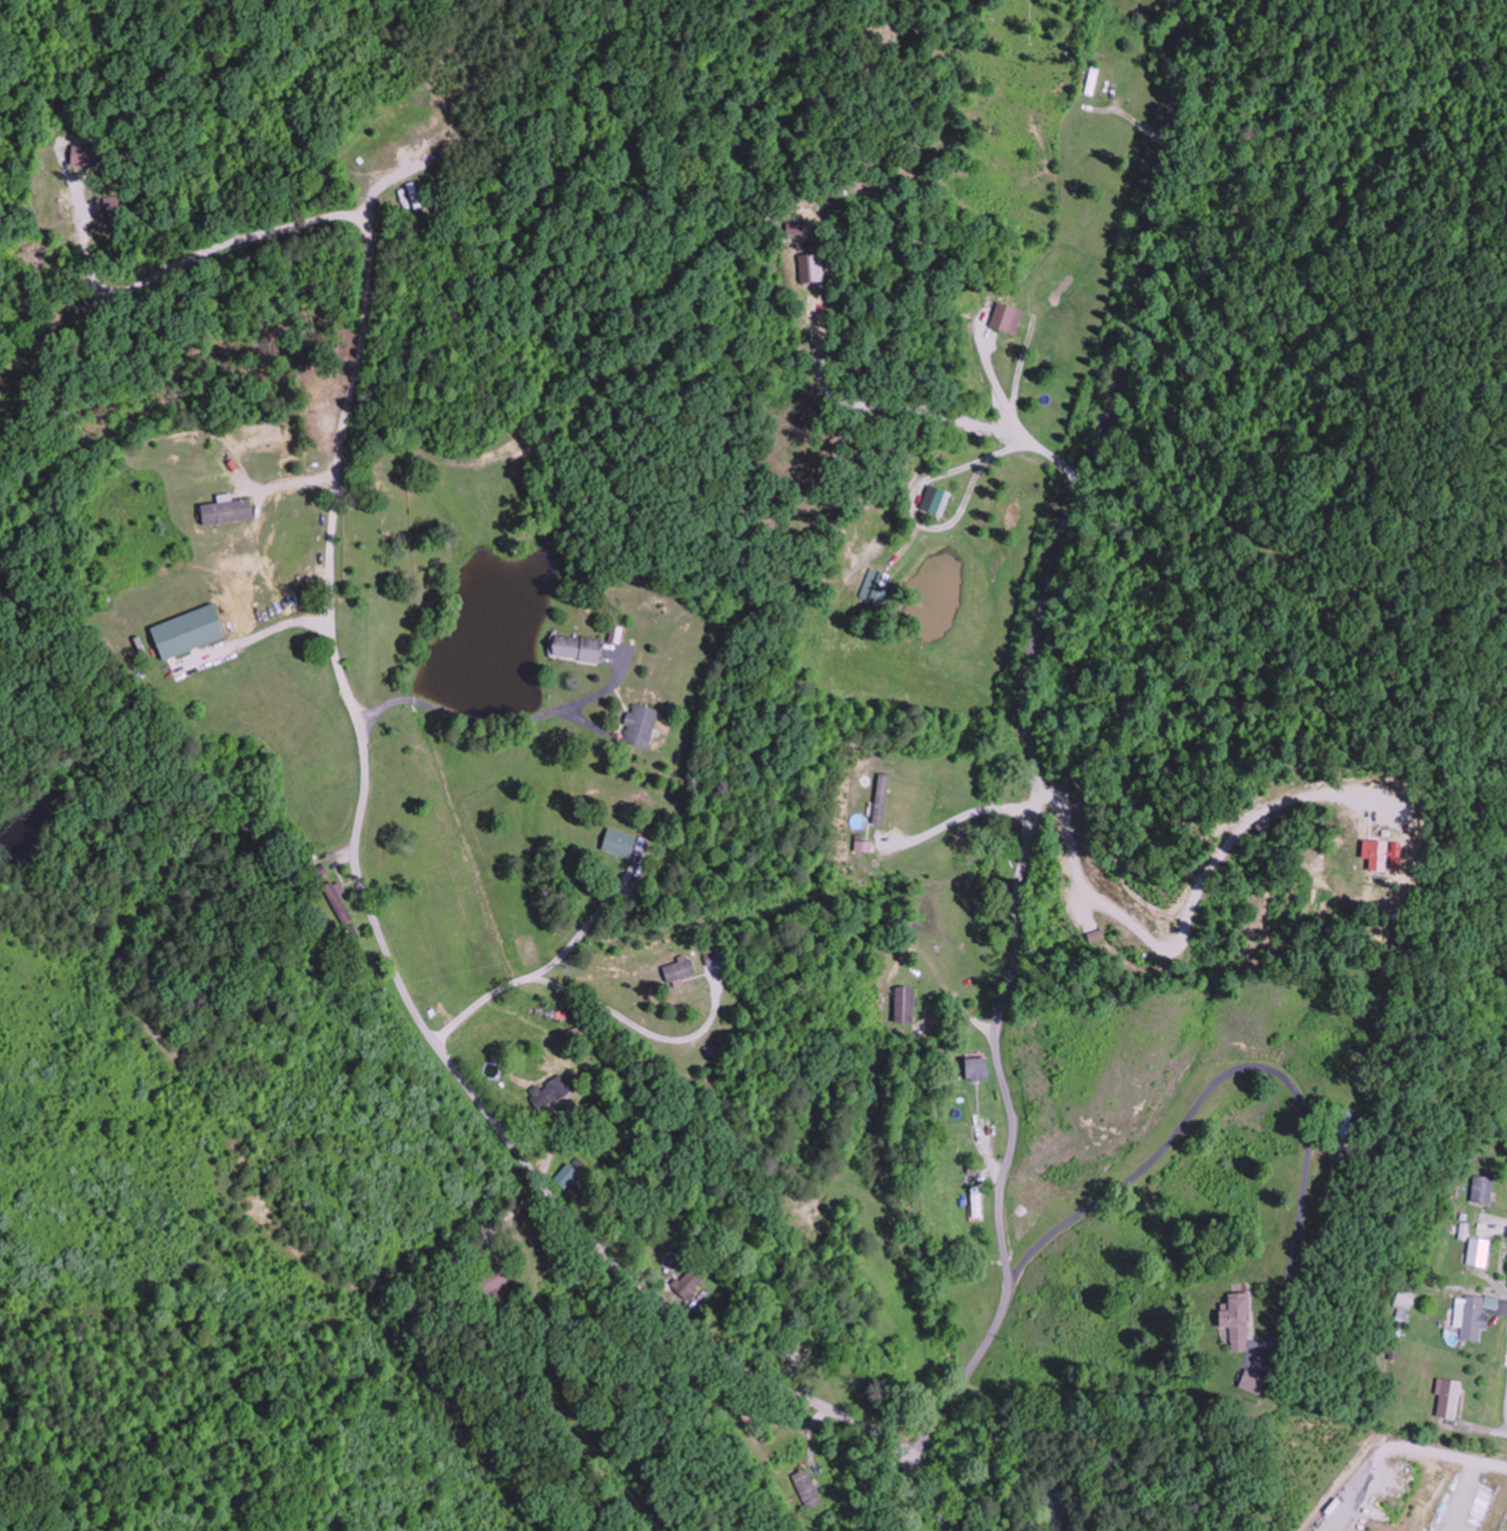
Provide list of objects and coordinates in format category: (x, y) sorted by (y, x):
building: (1092, 78)
building: (1005, 317)
building: (933, 500)
building: (225, 510)
park: (378, 537)
building: (874, 586)
building: (186, 631)
building: (575, 647)
building: (638, 726)
road: (1036, 774)
building: (879, 799)
road: (361, 809)
building: (618, 842)
building: (319, 873)
building: (337, 902)
building: (677, 970)
building: (902, 1005)
building: (974, 1069)
building: (548, 1091)
building: (1341, 1124)
building: (565, 1176)
building: (1480, 1190)
building: (976, 1203)
building: (1475, 1253)
building: (490, 1282)
building: (688, 1285)
building: (1403, 1299)
building: (1470, 1319)
building: (1233, 1322)
building: (1244, 1381)
building: (1446, 1399)
building: (806, 1489)

